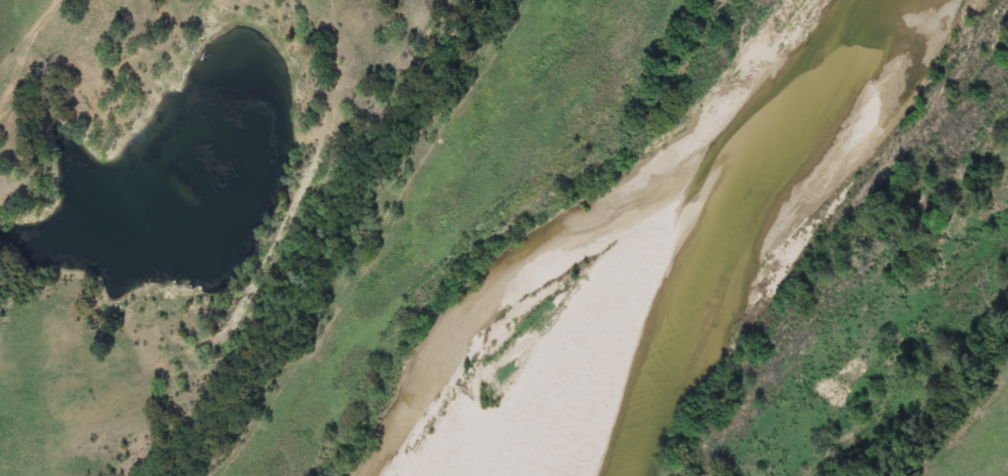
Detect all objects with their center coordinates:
river: (728, 226)

